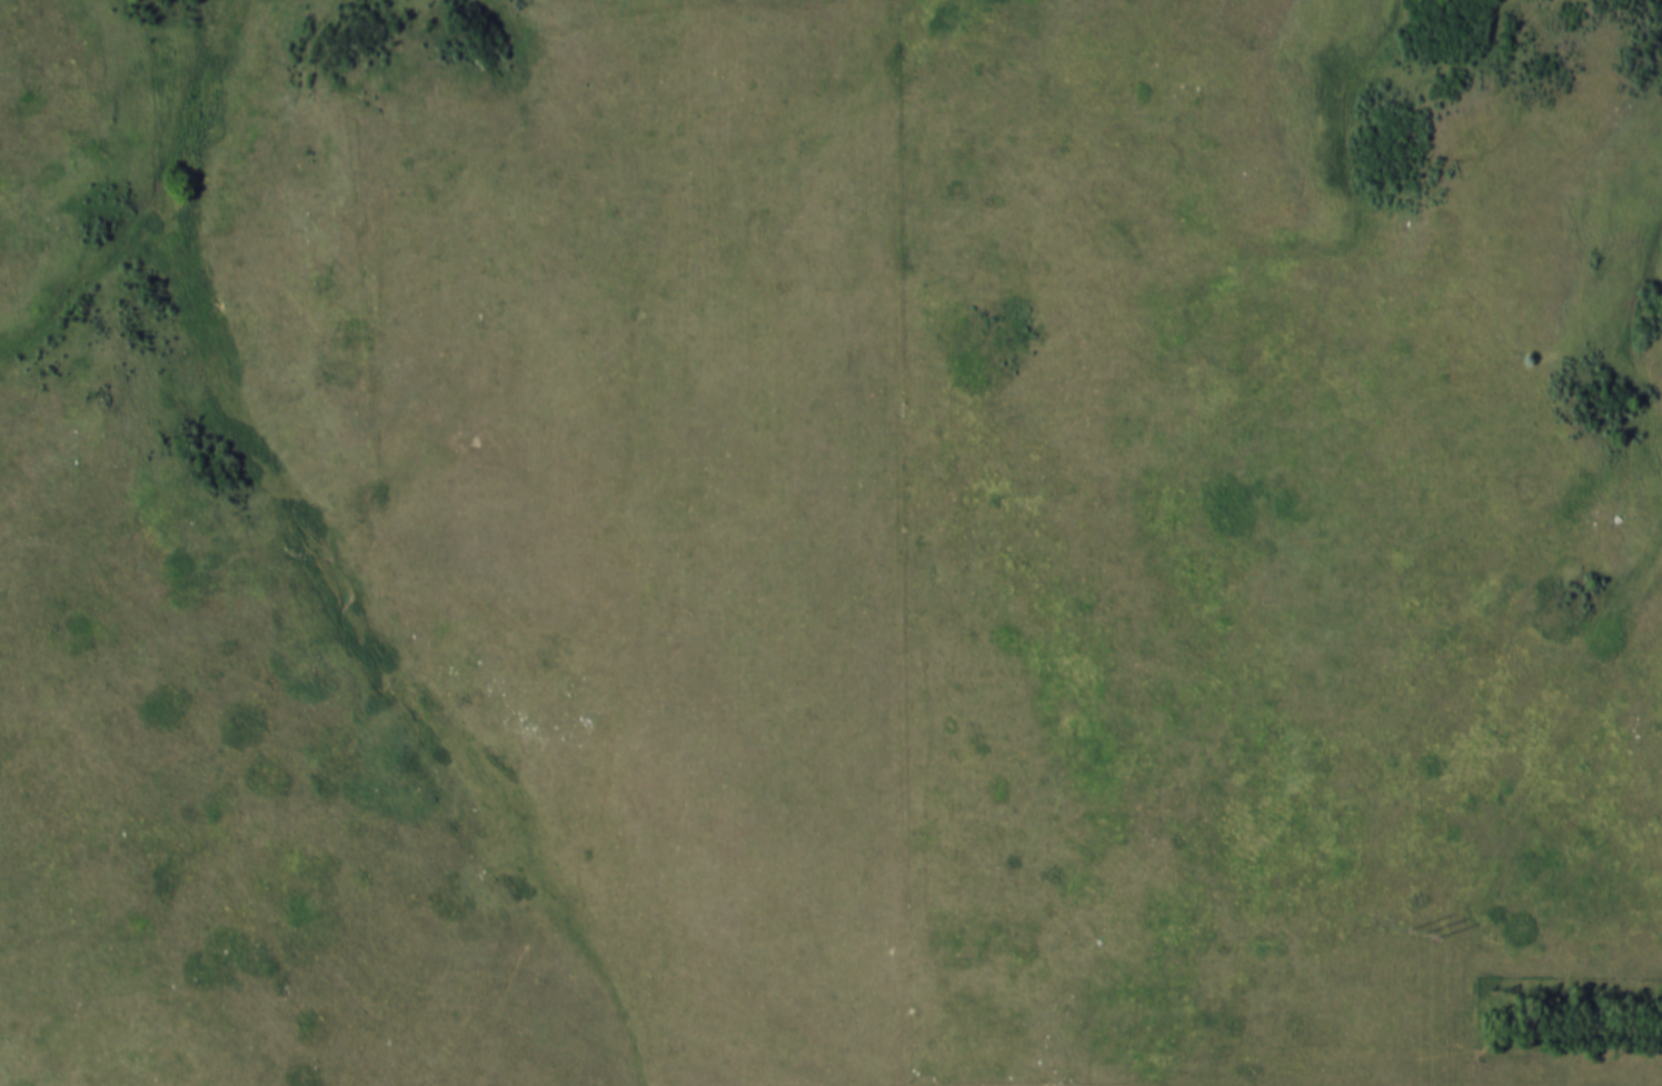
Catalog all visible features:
power tower: (1431, 935)

